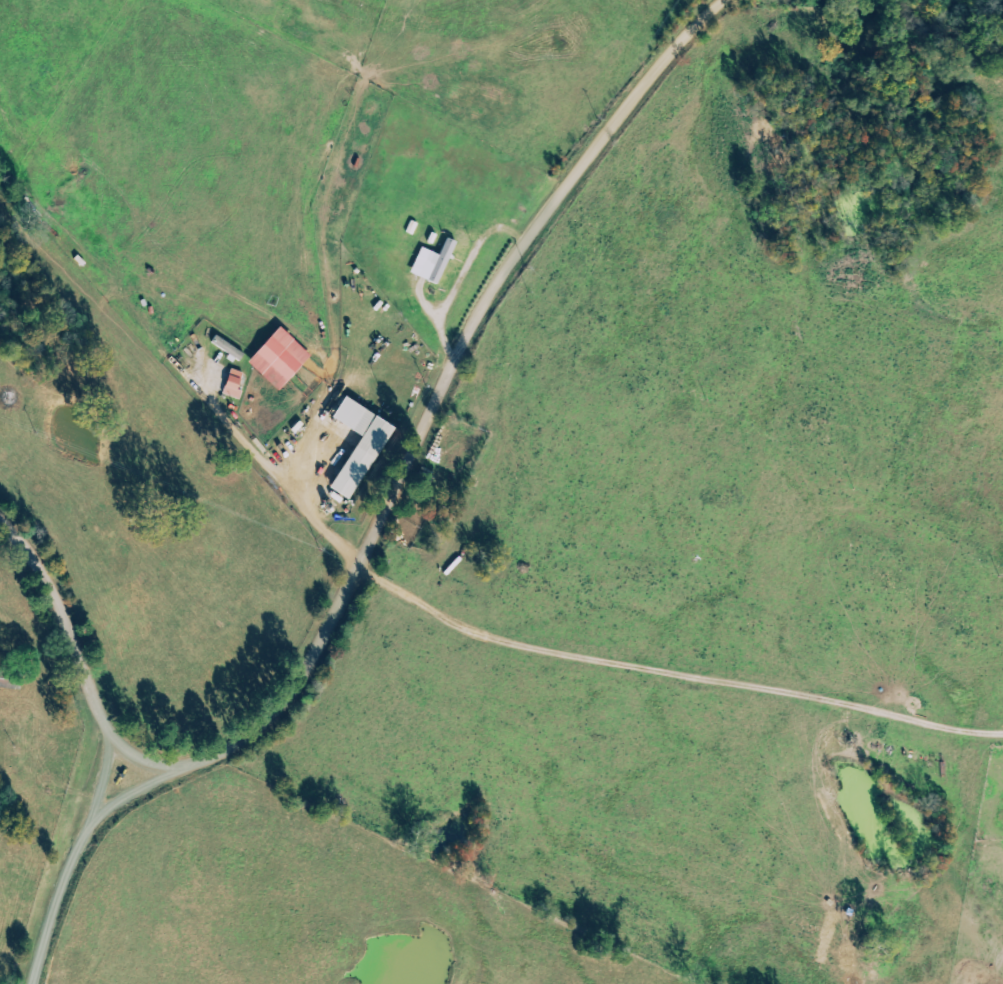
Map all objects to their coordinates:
building: (437, 262)
building: (231, 347)
building: (284, 358)
building: (237, 383)
road: (453, 422)
building: (364, 444)
road: (71, 648)
road: (680, 672)
road: (63, 882)

